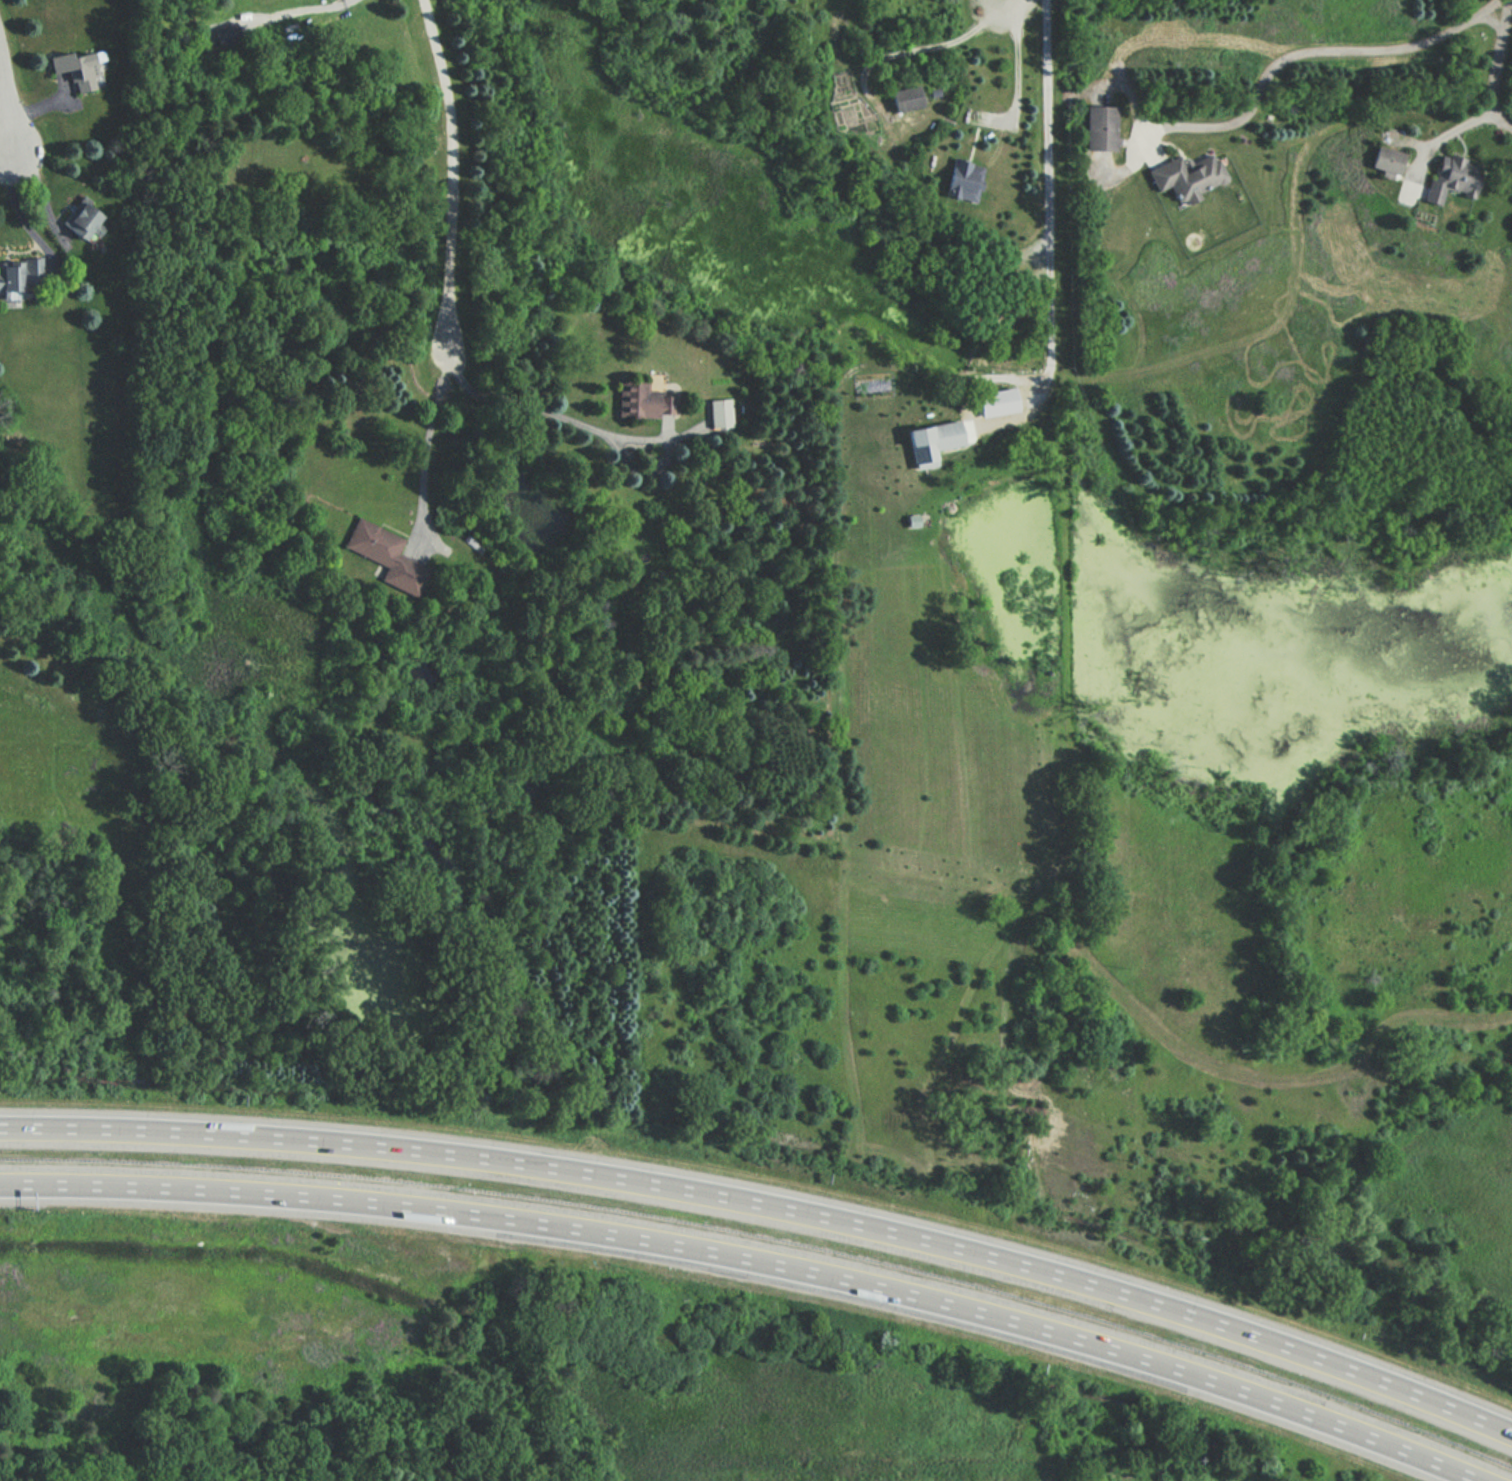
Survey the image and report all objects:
road: (1006, 0)
road: (927, 42)
road: (1021, 55)
road: (1333, 59)
building: (77, 68)
road: (1503, 83)
road: (9, 88)
building: (909, 99)
building: (1103, 129)
road: (1449, 135)
road: (5, 145)
building: (1384, 161)
road: (452, 175)
building: (1188, 175)
building: (1450, 178)
building: (962, 181)
road: (39, 190)
road: (16, 206)
building: (80, 218)
road: (1050, 237)
building: (10, 274)
building: (637, 400)
road: (549, 413)
building: (719, 413)
road: (429, 444)
building: (383, 555)
road: (771, 1201)
road: (748, 1263)

